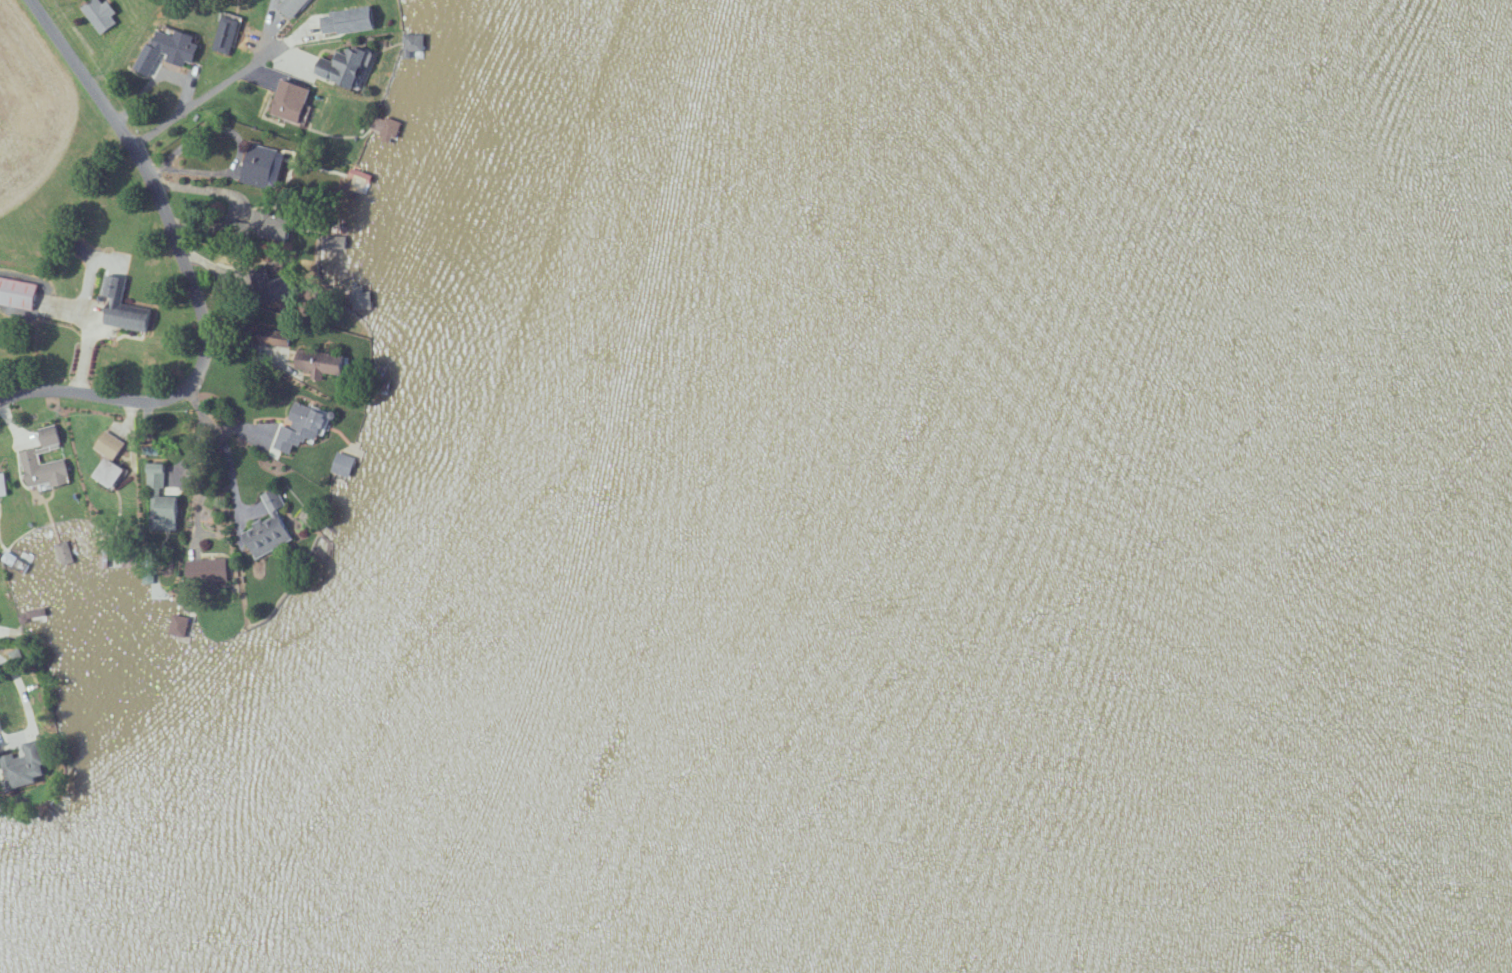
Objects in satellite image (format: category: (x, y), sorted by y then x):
building: (290, 6)
building: (100, 14)
building: (349, 20)
building: (226, 32)
building: (414, 45)
building: (178, 47)
building: (346, 66)
road: (196, 100)
building: (290, 100)
building: (386, 128)
building: (259, 169)
road: (186, 270)
building: (283, 286)
building: (17, 293)
building: (361, 297)
building: (122, 307)
building: (330, 364)
building: (301, 427)
building: (109, 444)
building: (29, 455)
building: (343, 464)
building: (109, 472)
building: (2, 485)
river: (1278, 486)
building: (161, 501)
building: (268, 531)
building: (64, 552)
building: (207, 571)
building: (179, 625)
building: (26, 766)

